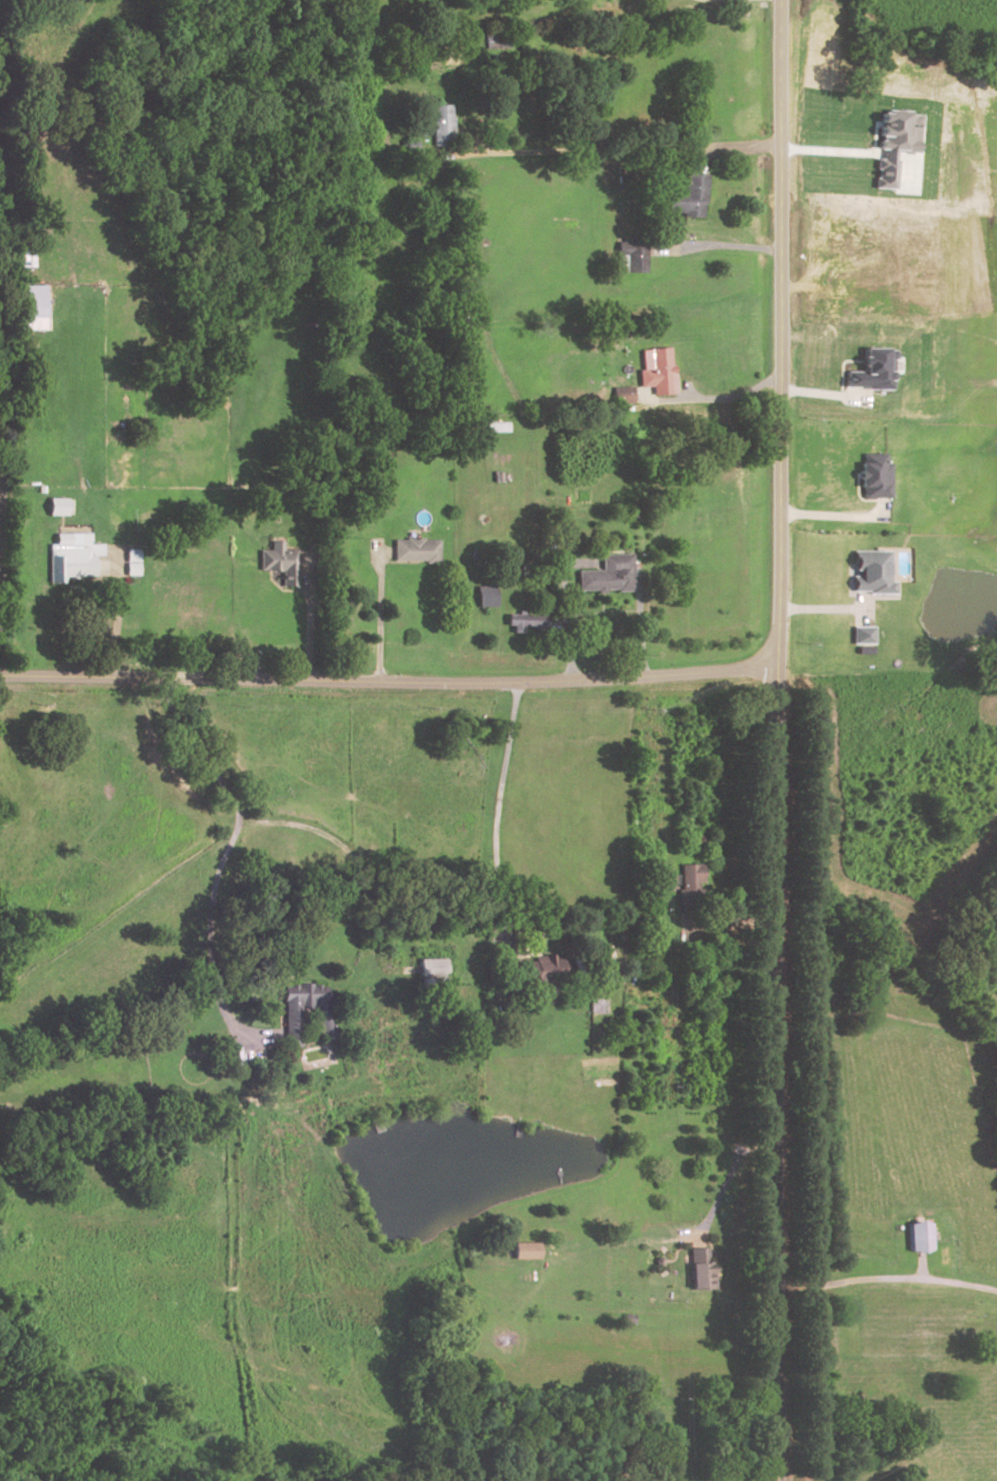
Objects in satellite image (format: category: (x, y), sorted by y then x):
building: (441, 124)
road: (628, 142)
building: (895, 142)
road: (829, 151)
building: (689, 196)
road: (715, 244)
building: (631, 255)
building: (32, 306)
building: (872, 369)
building: (655, 372)
building: (623, 394)
road: (725, 399)
building: (874, 476)
building: (57, 506)
road: (836, 515)
building: (413, 551)
building: (131, 561)
building: (68, 563)
building: (279, 565)
building: (872, 572)
building: (606, 575)
building: (484, 597)
road: (115, 613)
road: (377, 614)
road: (307, 617)
road: (565, 617)
building: (524, 623)
road: (638, 625)
building: (863, 634)
road: (388, 681)
road: (777, 740)
road: (498, 816)
road: (348, 852)
road: (222, 865)
building: (687, 886)
road: (732, 923)
building: (601, 958)
building: (430, 972)
building: (537, 974)
building: (289, 1023)
pier: (373, 1122)
pier: (516, 1128)
road: (724, 1180)
pier: (560, 1181)
building: (914, 1238)
building: (523, 1251)
road: (918, 1268)
building: (697, 1274)
road: (887, 1279)

